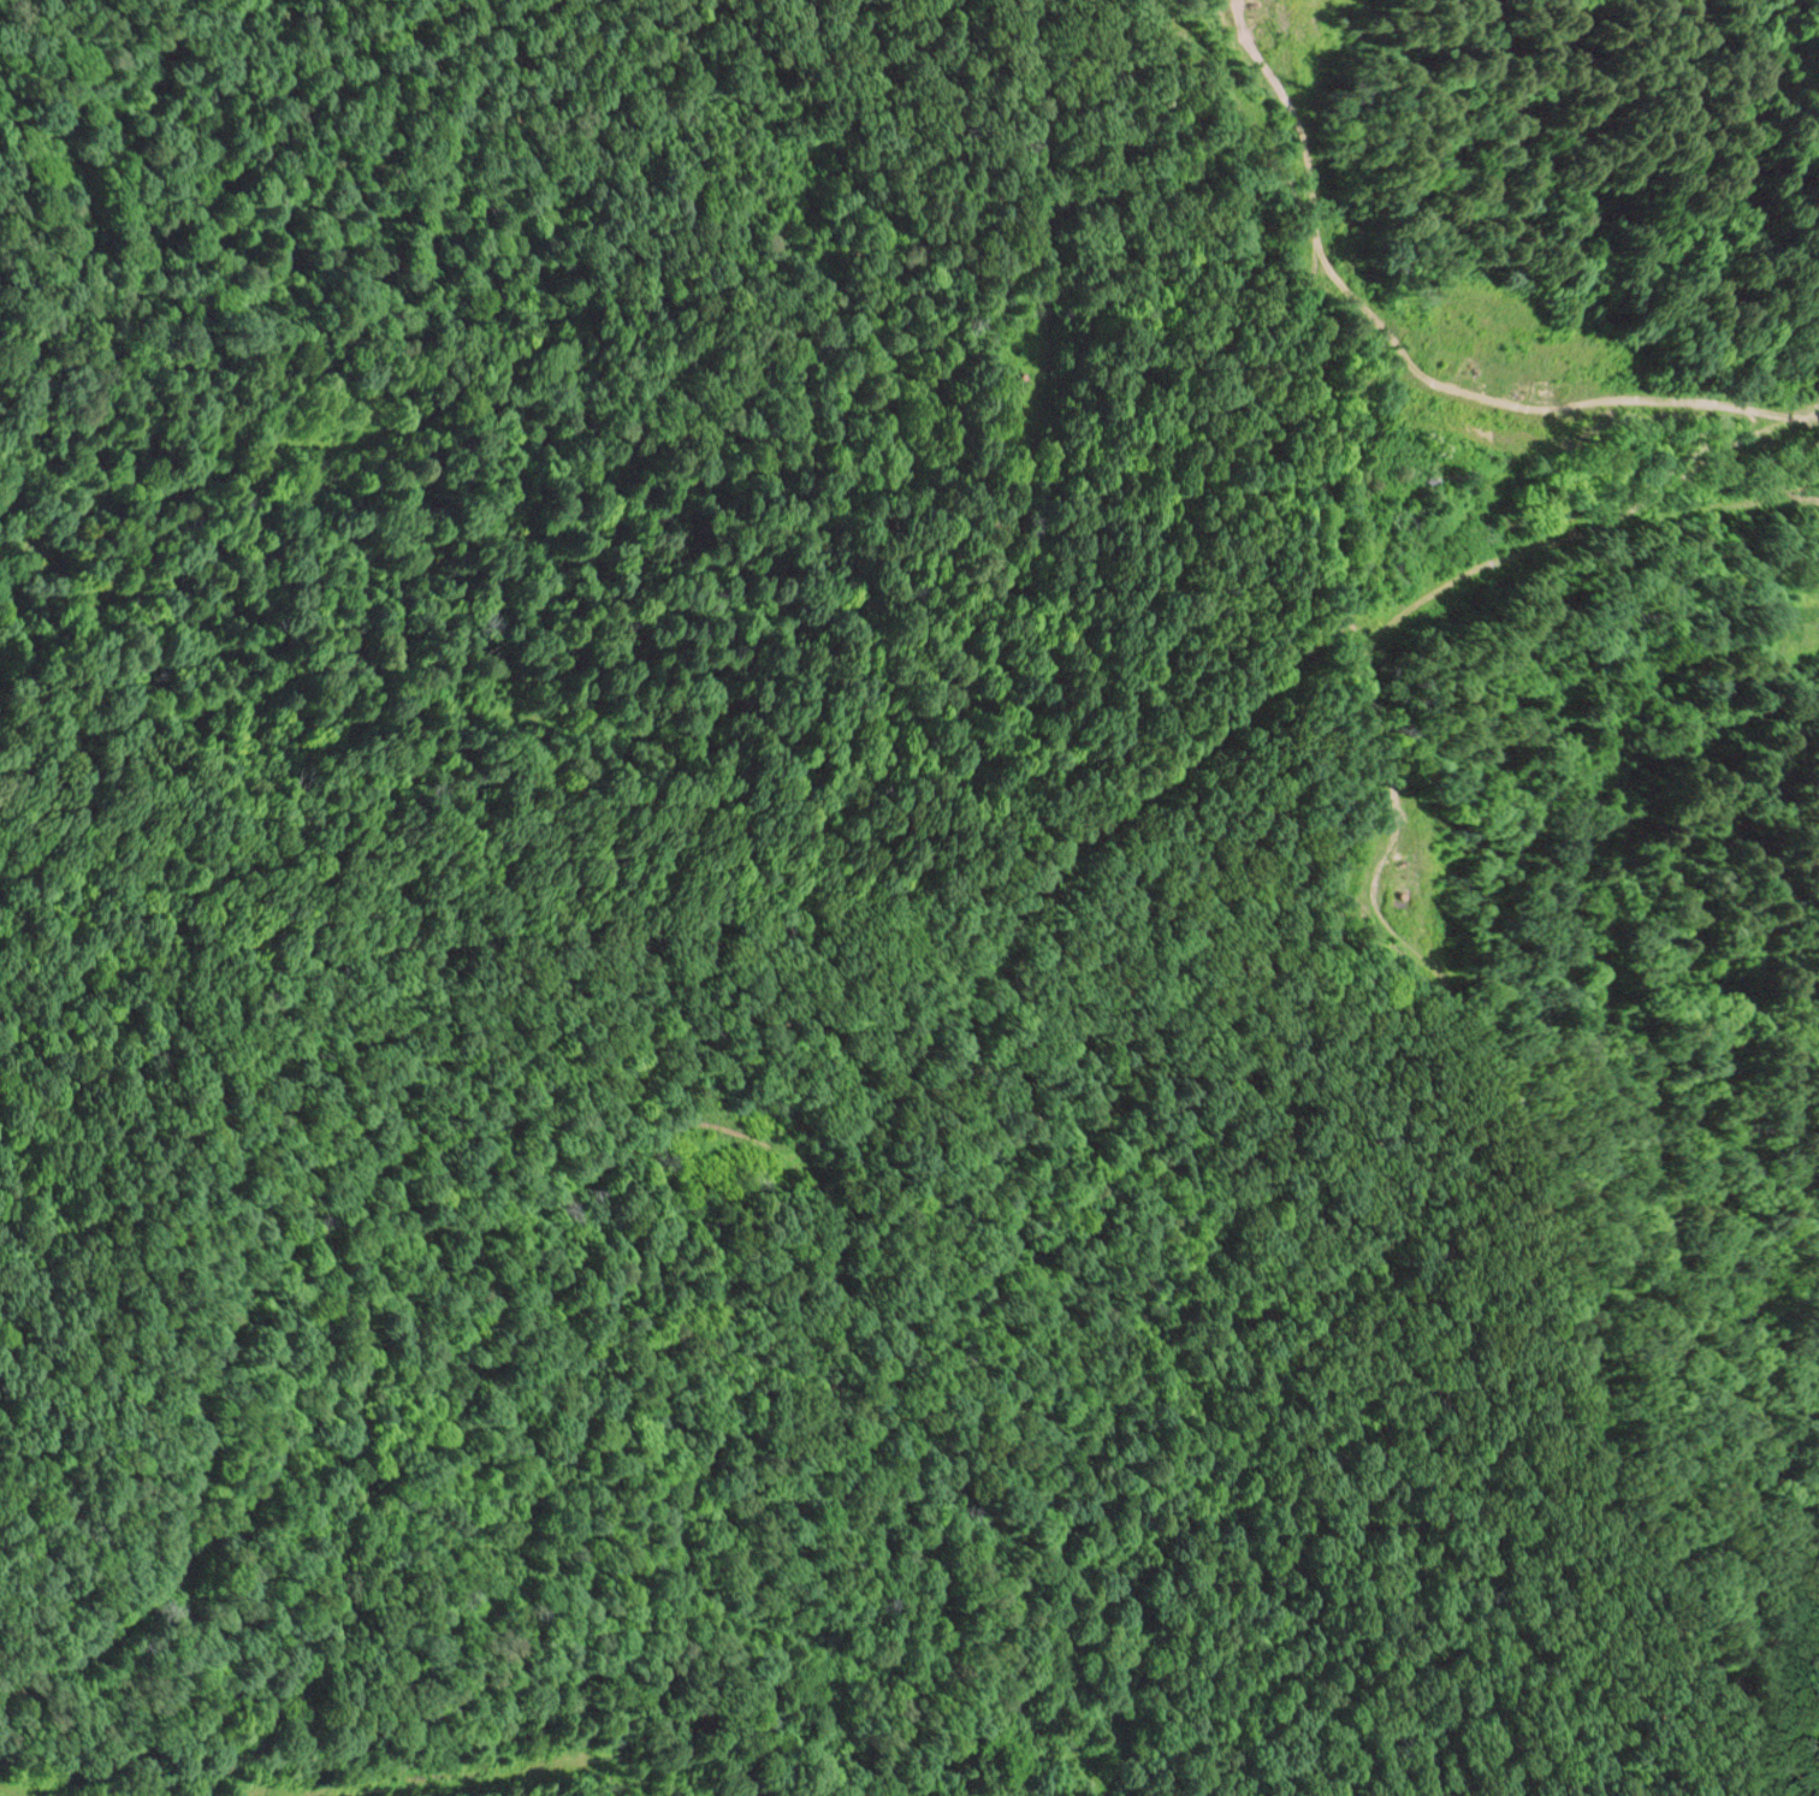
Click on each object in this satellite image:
road: (545, 1736)

